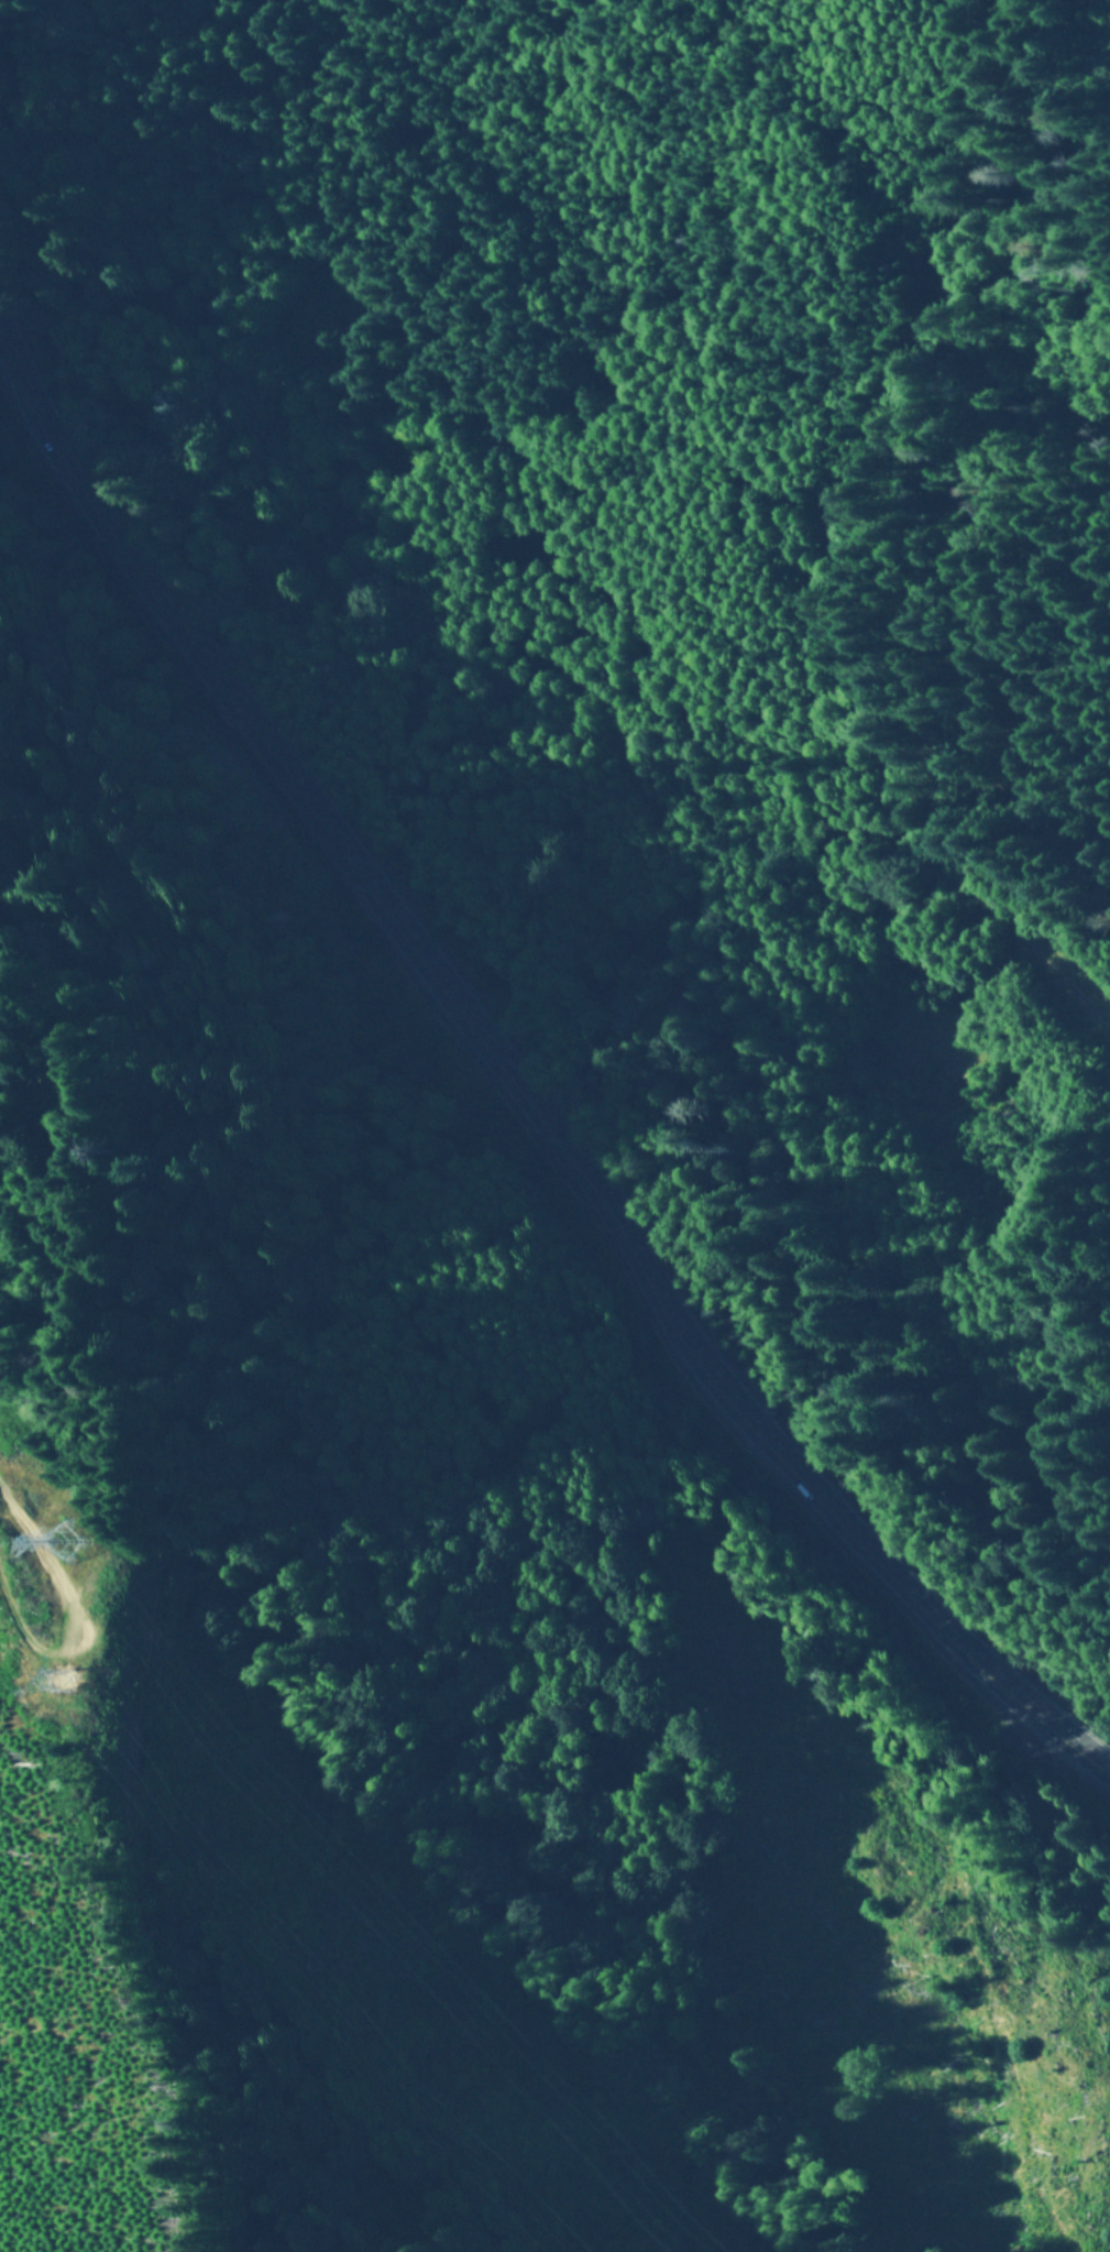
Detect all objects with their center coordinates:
road: (513, 1106)
power tower: (94, 1573)
power tower: (63, 1682)

